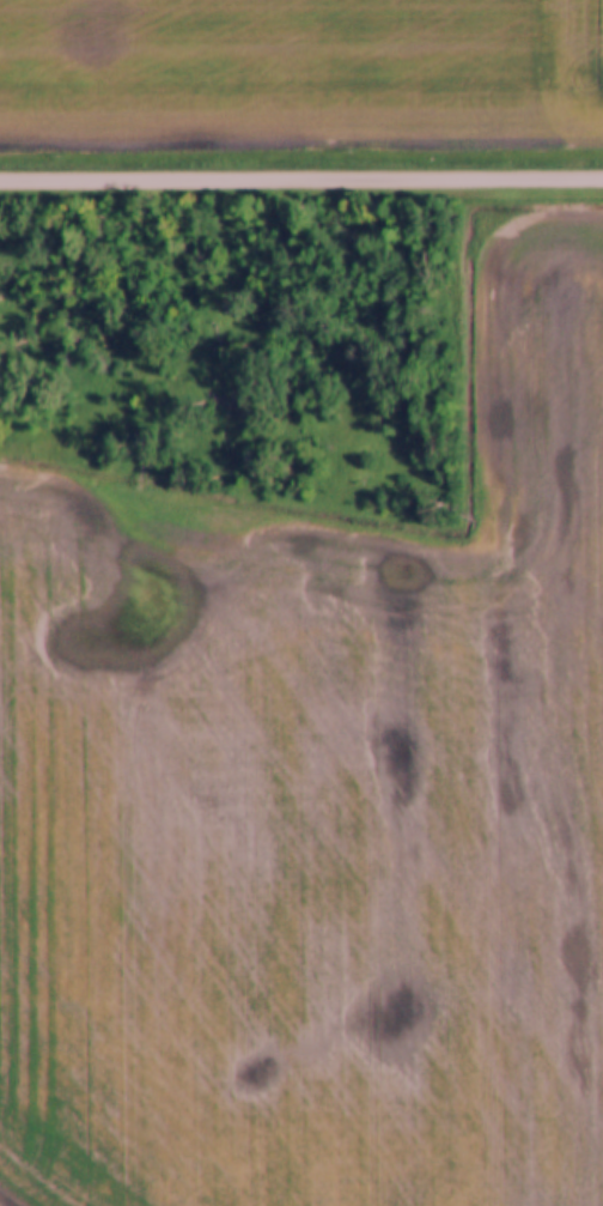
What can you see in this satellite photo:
road: (301, 169)

